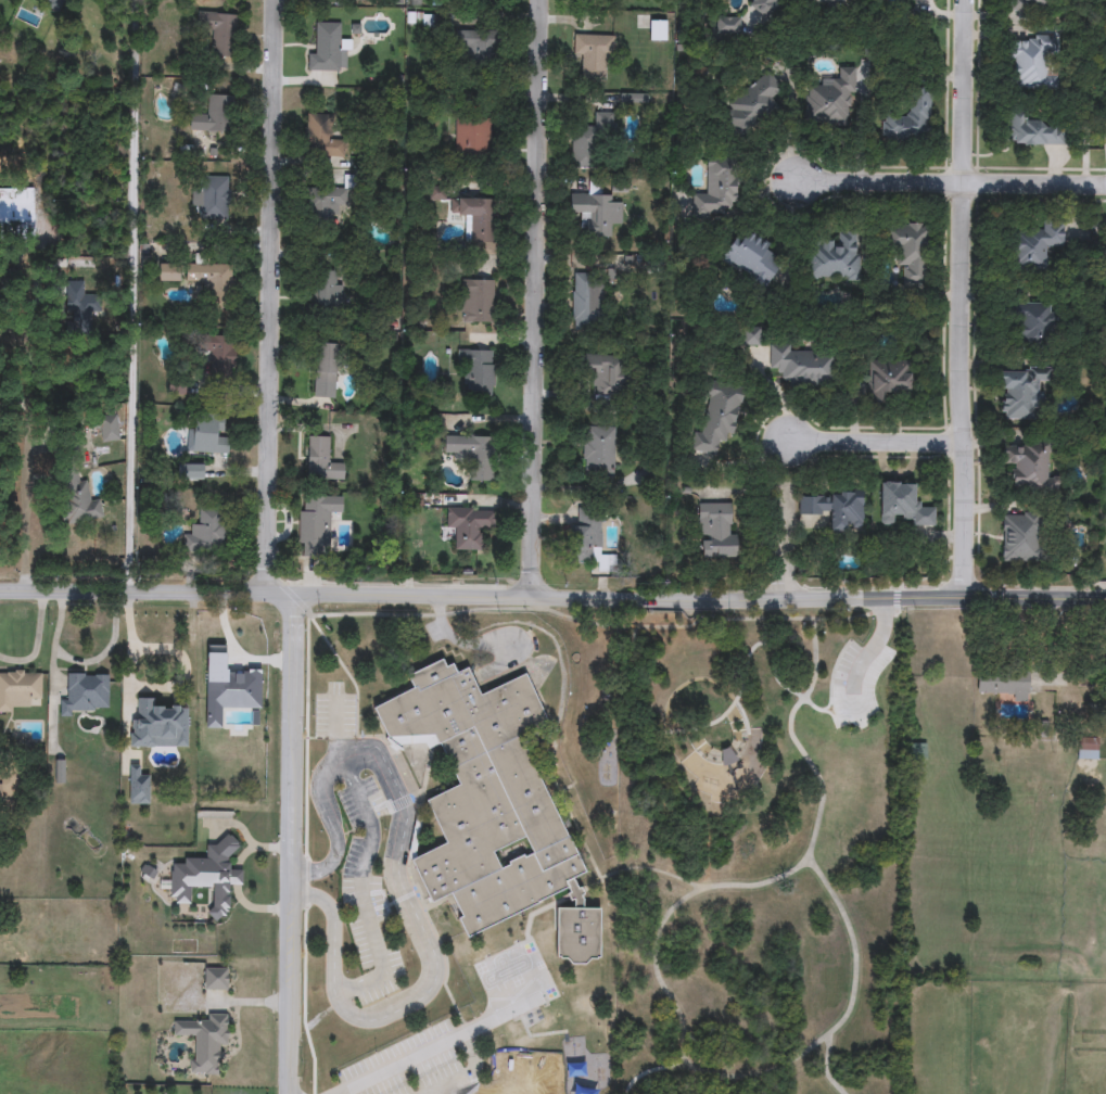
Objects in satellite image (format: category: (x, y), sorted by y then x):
building: (924, 0)
building: (830, 2)
building: (53, 3)
building: (1031, 3)
building: (763, 7)
building: (728, 25)
building: (223, 36)
building: (473, 47)
building: (328, 49)
building: (593, 54)
building: (1029, 64)
building: (638, 99)
building: (830, 101)
building: (752, 104)
building: (214, 116)
building: (910, 119)
road: (792, 129)
building: (1032, 131)
building: (321, 138)
building: (471, 138)
building: (592, 141)
road: (878, 183)
road: (1033, 183)
building: (716, 189)
building: (211, 198)
building: (320, 206)
building: (16, 212)
building: (595, 214)
building: (479, 218)
building: (1035, 246)
building: (906, 250)
building: (835, 258)
building: (751, 259)
building: (169, 273)
building: (211, 279)
building: (329, 290)
road: (131, 296)
road: (275, 297)
road: (963, 297)
road: (538, 298)
building: (586, 300)
building: (478, 302)
building: (79, 309)
building: (1029, 320)
building: (750, 338)
building: (220, 354)
building: (326, 364)
building: (800, 367)
building: (476, 371)
building: (600, 372)
building: (889, 378)
building: (1019, 391)
building: (716, 417)
building: (107, 428)
building: (208, 435)
road: (876, 440)
building: (598, 451)
building: (473, 455)
building: (322, 460)
building: (1029, 467)
road: (23, 471)
building: (190, 471)
road: (752, 491)
building: (77, 499)
building: (902, 505)
building: (836, 508)
building: (316, 523)
building: (468, 525)
building: (715, 531)
building: (206, 532)
building: (1019, 537)
building: (589, 542)
road: (785, 549)
road: (552, 599)
road: (843, 620)
road: (459, 644)
road: (875, 646)
road: (234, 653)
road: (815, 660)
road: (131, 662)
road: (80, 664)
road: (188, 670)
building: (1003, 685)
road: (830, 687)
building: (18, 690)
building: (84, 694)
road: (633, 711)
building: (1088, 748)
building: (726, 756)
building: (491, 805)
road: (293, 845)
park: (759, 851)
road: (797, 866)
building: (206, 877)
road: (360, 890)
road: (405, 890)
building: (215, 979)
building: (205, 1041)
road: (433, 1050)
road: (826, 1067)
road: (755, 1071)

